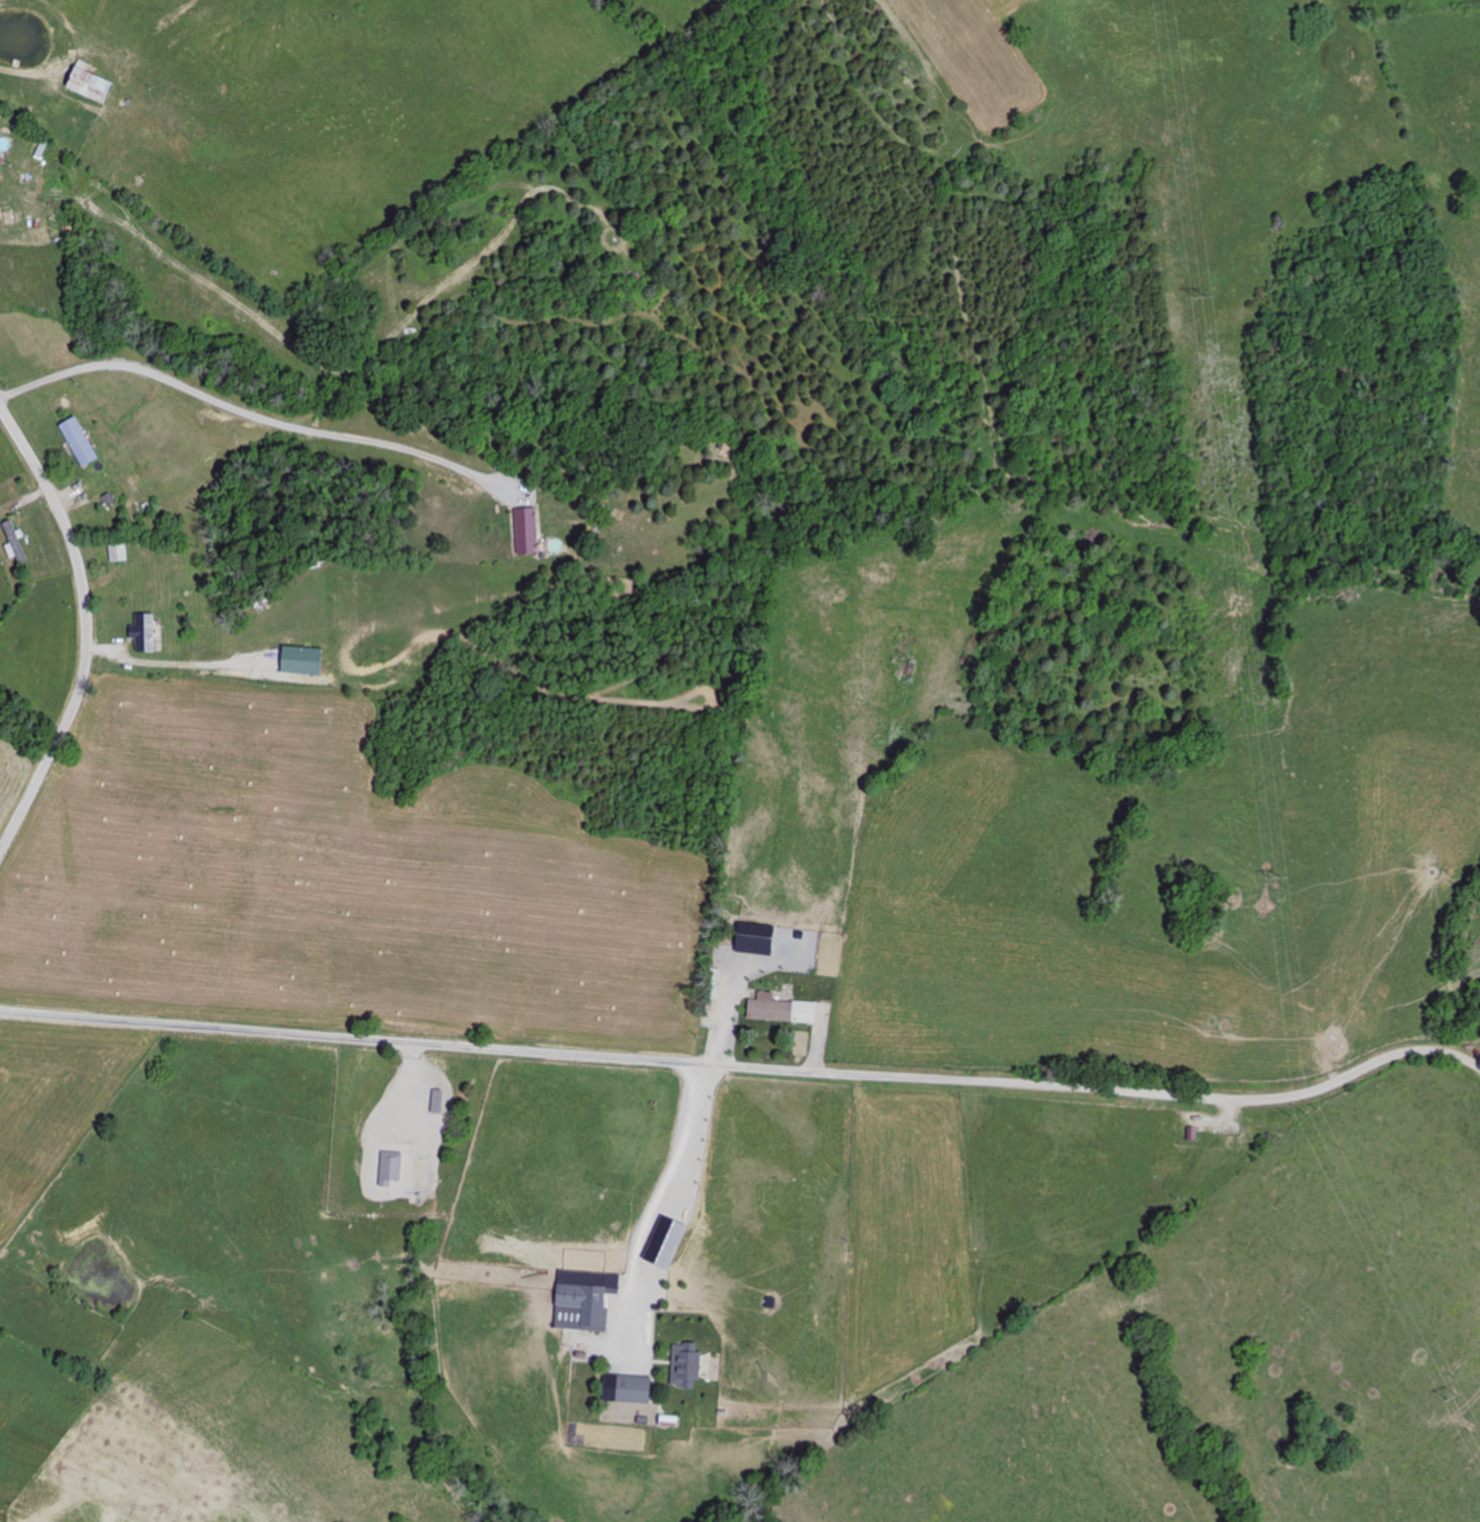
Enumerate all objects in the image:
building: (93, 84)
building: (82, 442)
road: (61, 521)
building: (529, 533)
building: (15, 543)
building: (121, 553)
building: (147, 633)
road: (46, 744)
building: (782, 1010)
road: (746, 1065)
building: (438, 1102)
building: (392, 1167)
building: (588, 1304)
building: (636, 1389)

